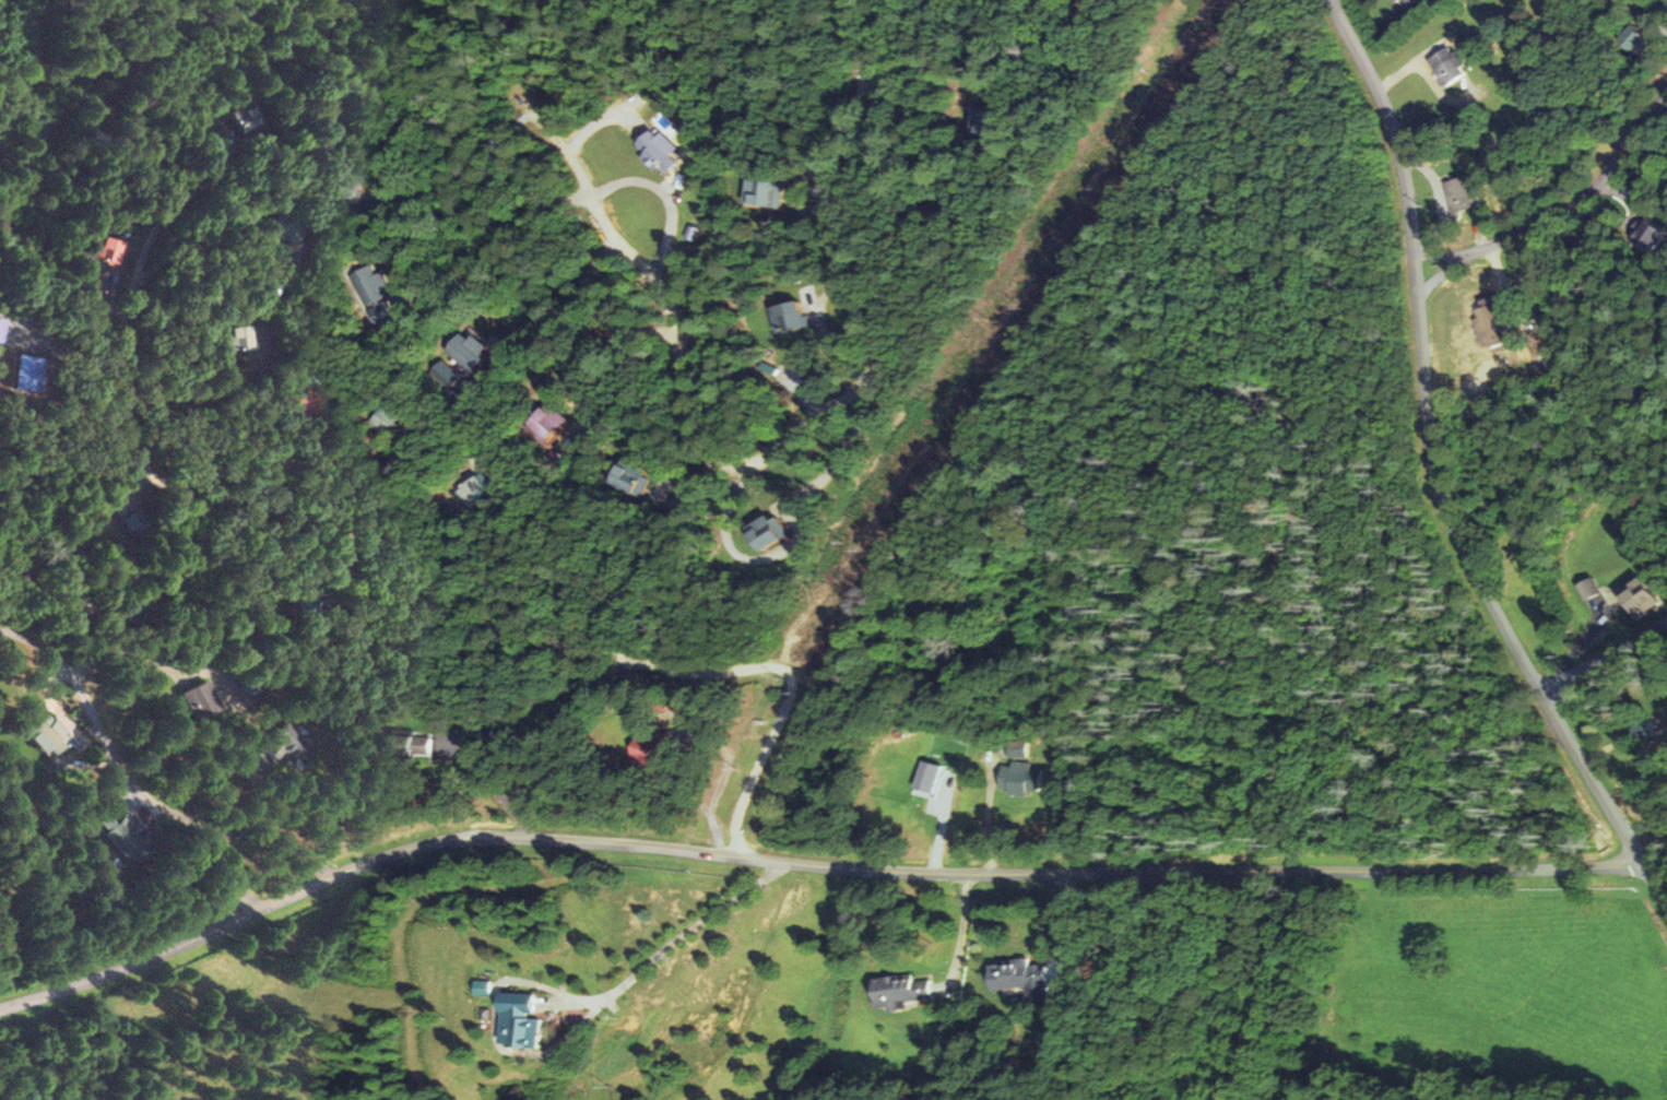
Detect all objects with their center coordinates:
building: (659, 150)
building: (765, 192)
building: (1462, 194)
road: (1563, 208)
building: (1651, 236)
building: (106, 250)
building: (370, 285)
building: (1489, 321)
building: (234, 338)
building: (468, 351)
building: (302, 403)
road: (817, 418)
building: (388, 419)
road: (1434, 472)
building: (632, 480)
building: (478, 492)
road: (90, 531)
road: (416, 568)
building: (1587, 589)
building: (1639, 598)
road: (1606, 655)
building: (196, 700)
building: (43, 735)
building: (407, 746)
building: (645, 747)
building: (282, 749)
building: (1017, 749)
road: (130, 764)
building: (926, 779)
building: (1020, 779)
building: (119, 835)
road: (804, 864)
building: (1020, 978)
building: (901, 990)
building: (516, 1021)

